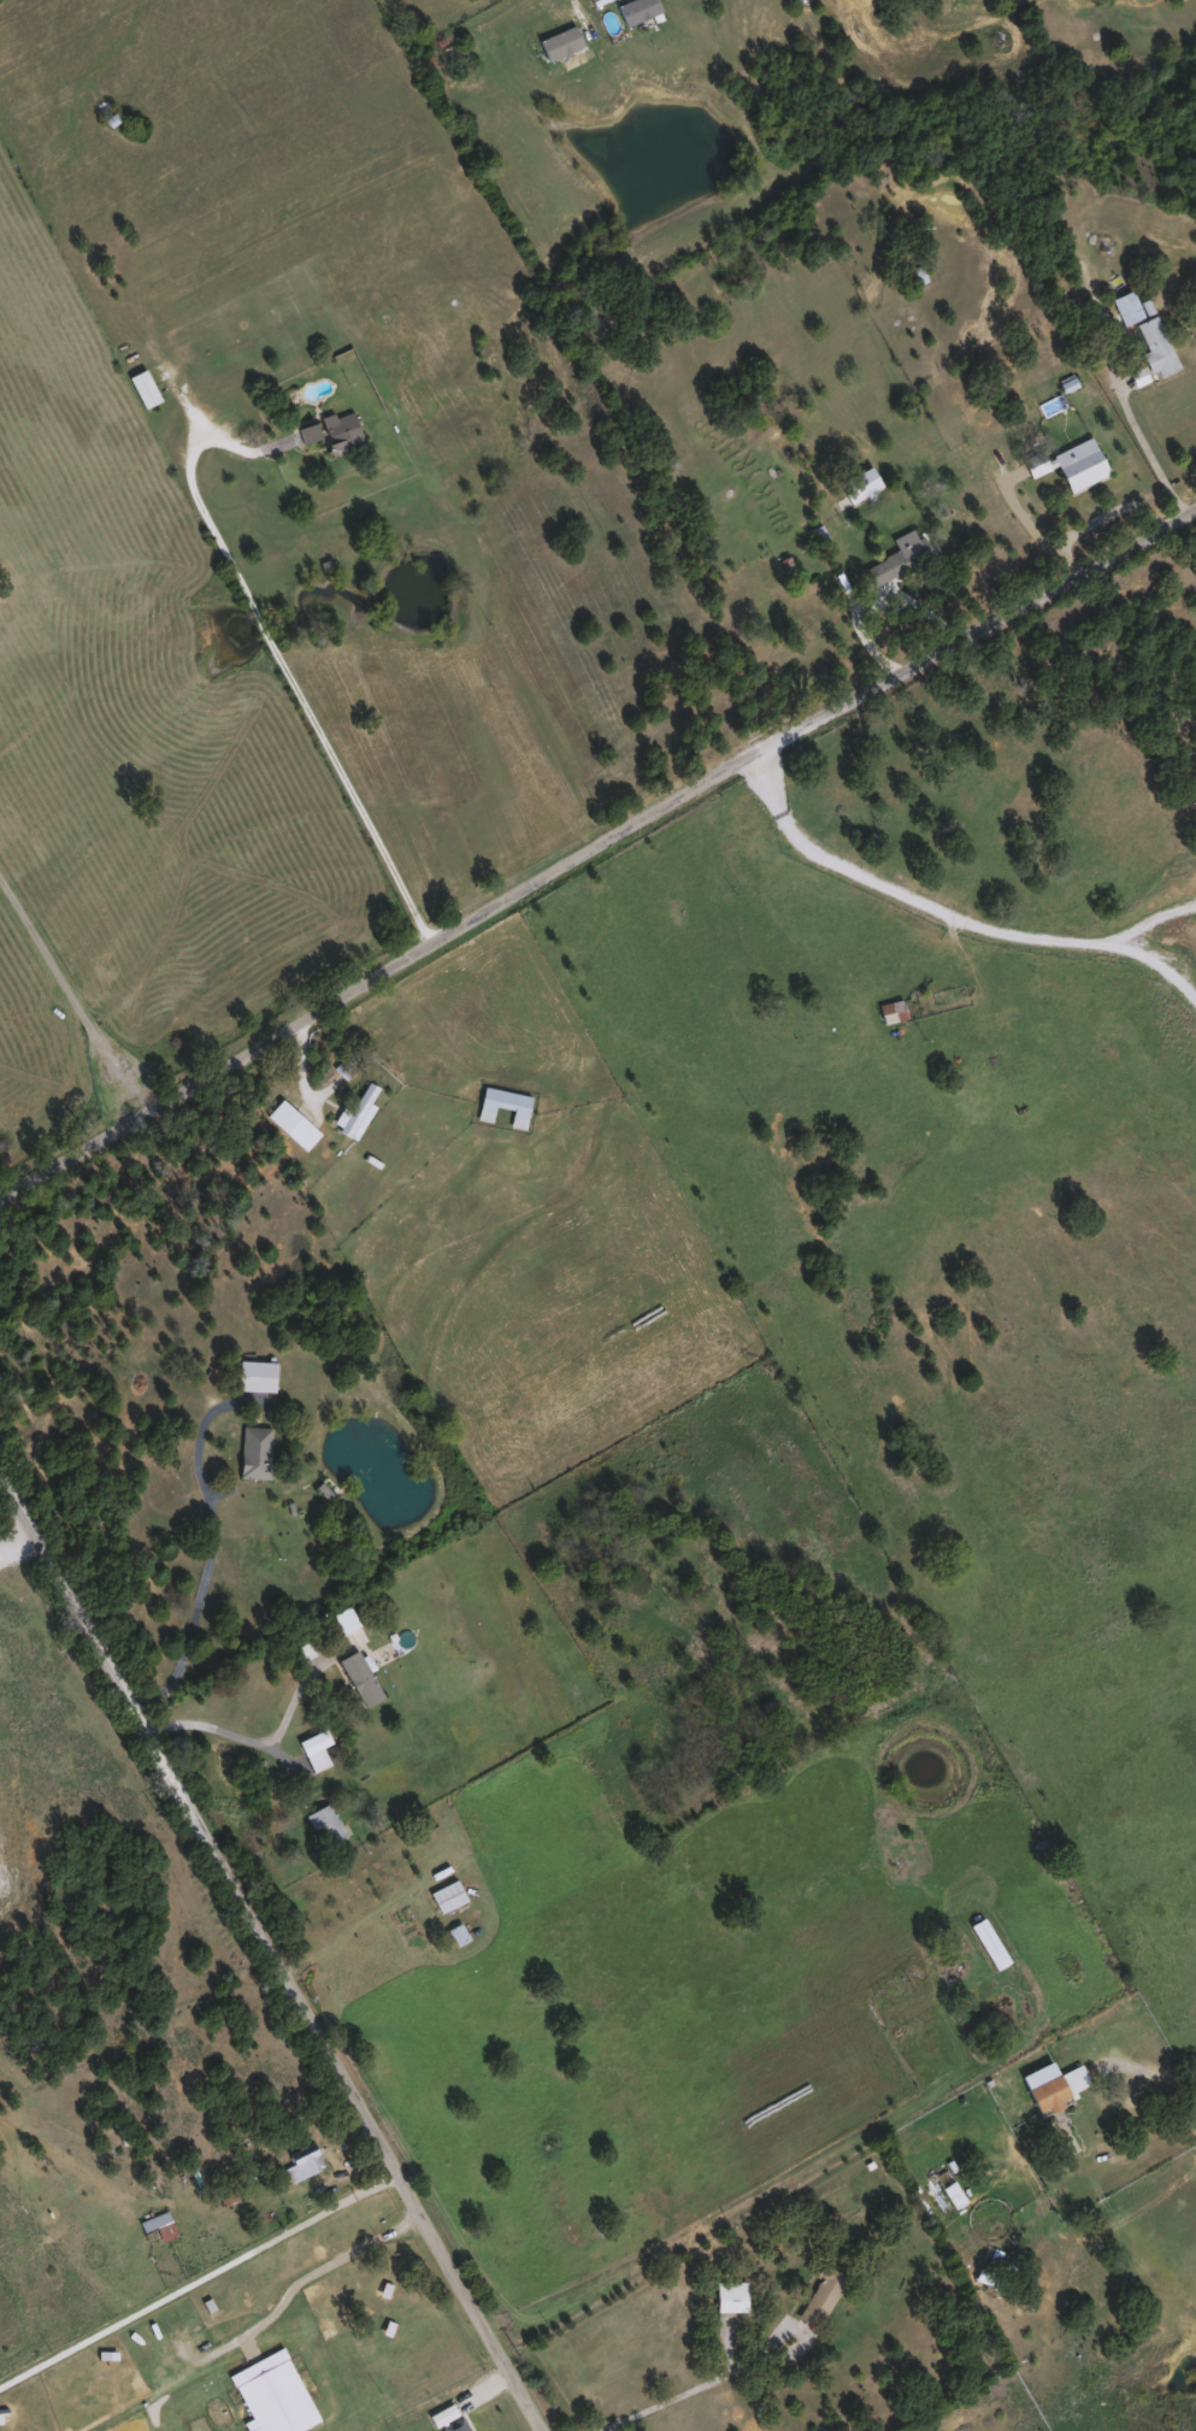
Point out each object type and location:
building: (635, 10)
building: (558, 42)
building: (1079, 270)
building: (1126, 306)
building: (1154, 345)
building: (141, 387)
road: (1130, 418)
building: (337, 430)
building: (304, 432)
building: (772, 435)
building: (1035, 463)
building: (1078, 464)
building: (897, 560)
road: (293, 683)
road: (594, 841)
road: (948, 914)
road: (69, 991)
building: (890, 1012)
building: (502, 1105)
building: (358, 1111)
building: (291, 1124)
building: (254, 1375)
building: (254, 1452)
road: (20, 1538)
road: (216, 1554)
building: (363, 1676)
road: (263, 1738)
building: (311, 1744)
building: (323, 1824)
building: (446, 1895)
building: (456, 1933)
road: (277, 1941)
building: (988, 1942)
road: (1155, 2074)
building: (1043, 2088)
building: (301, 2161)
building: (157, 2227)
road: (320, 2268)
road: (202, 2276)
building: (817, 2294)
building: (730, 2295)
road: (699, 2392)
building: (273, 2394)
building: (455, 2425)

